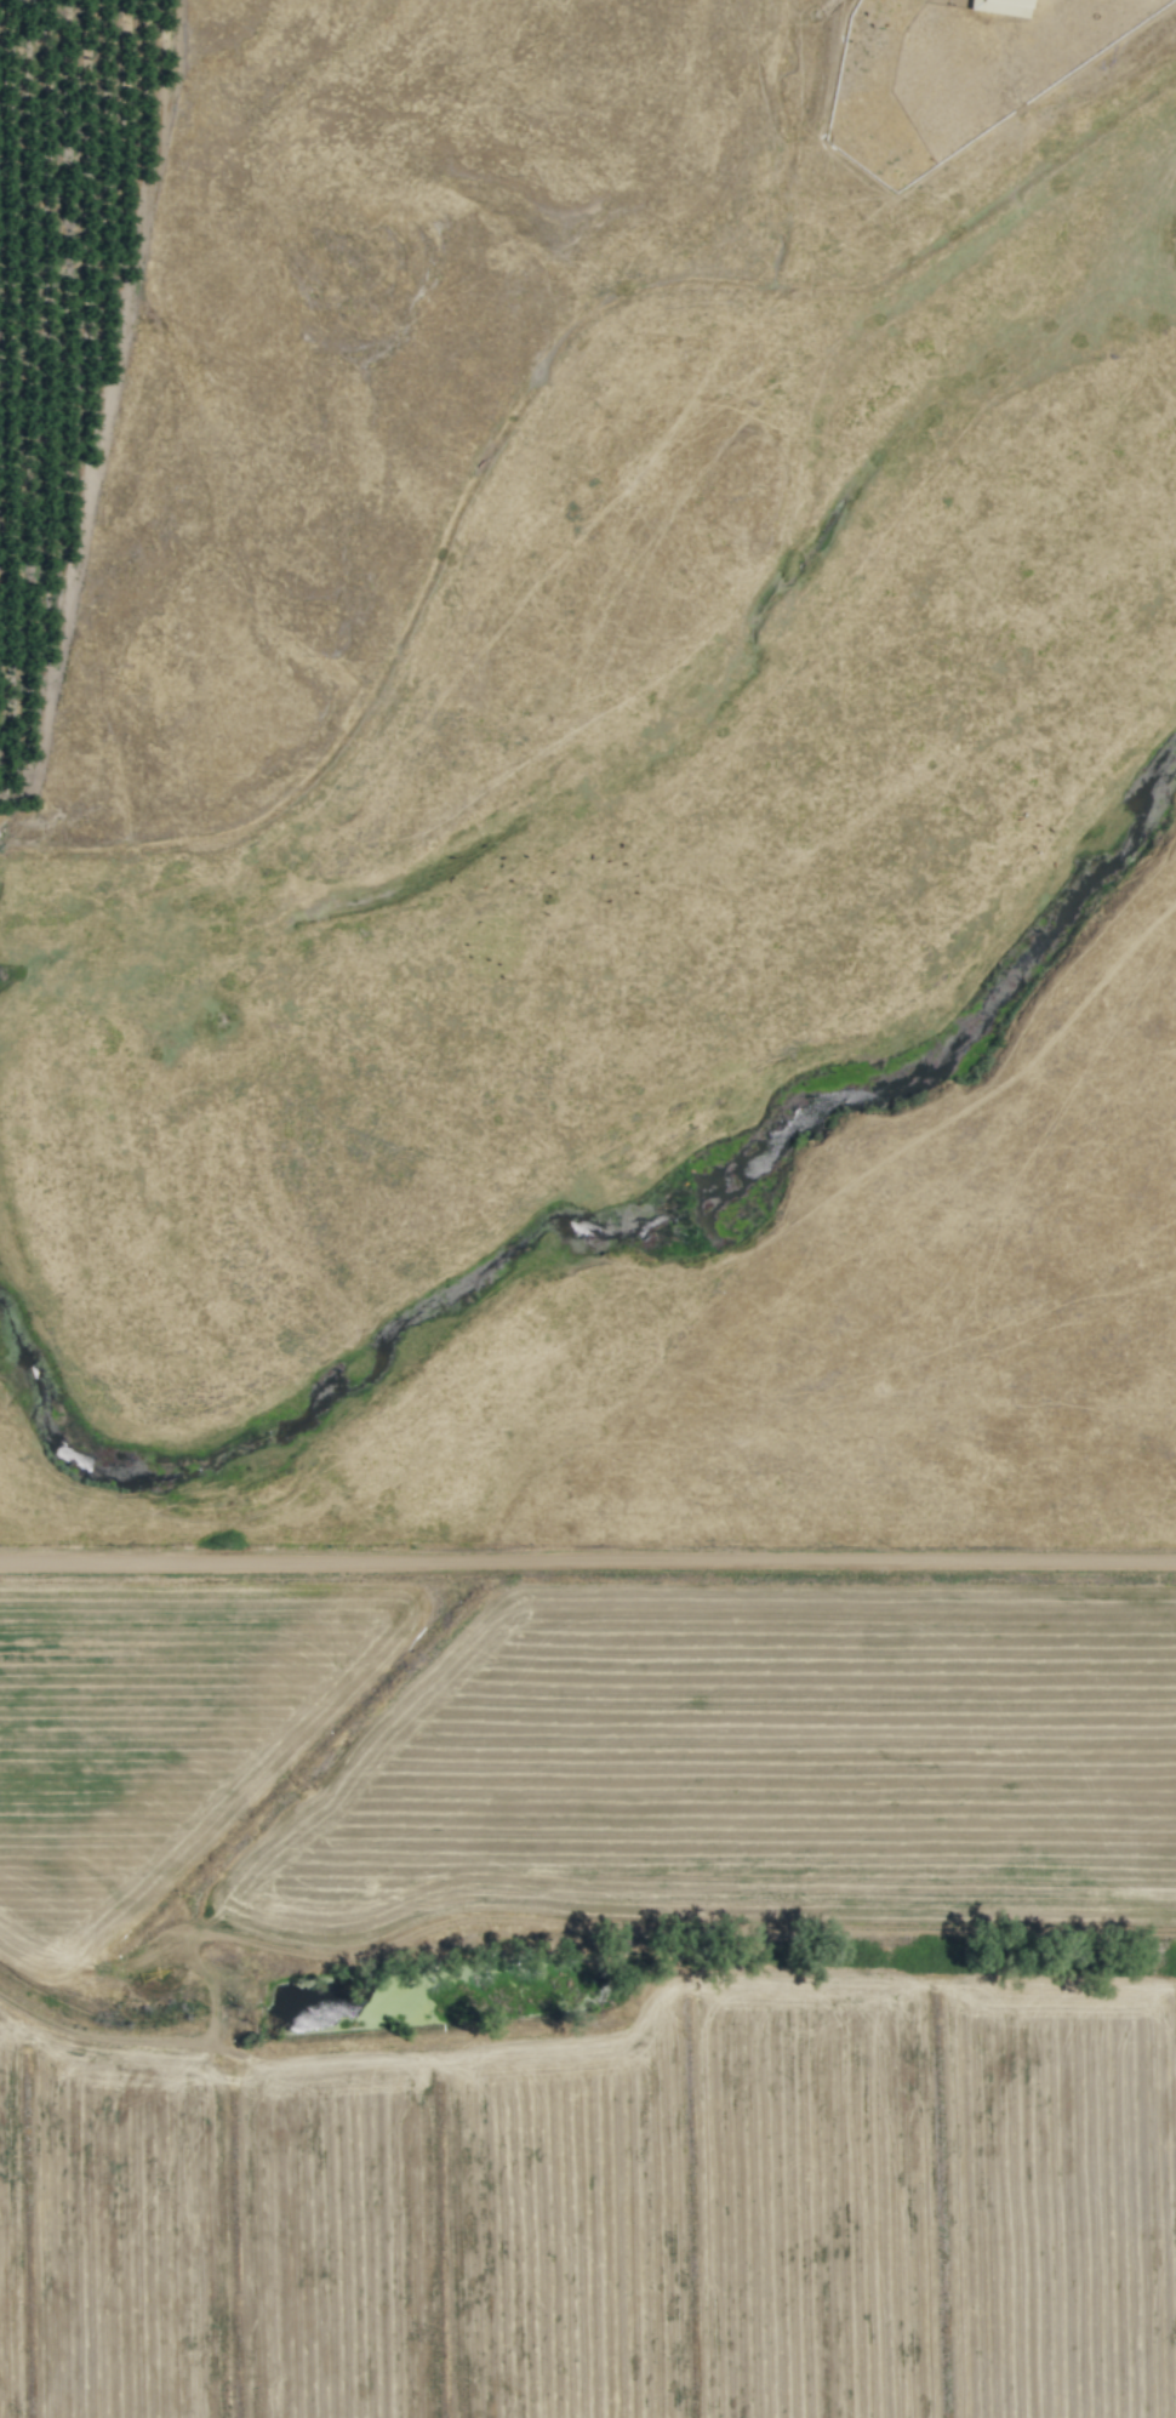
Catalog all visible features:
building: (1001, 7)
road: (588, 1557)

